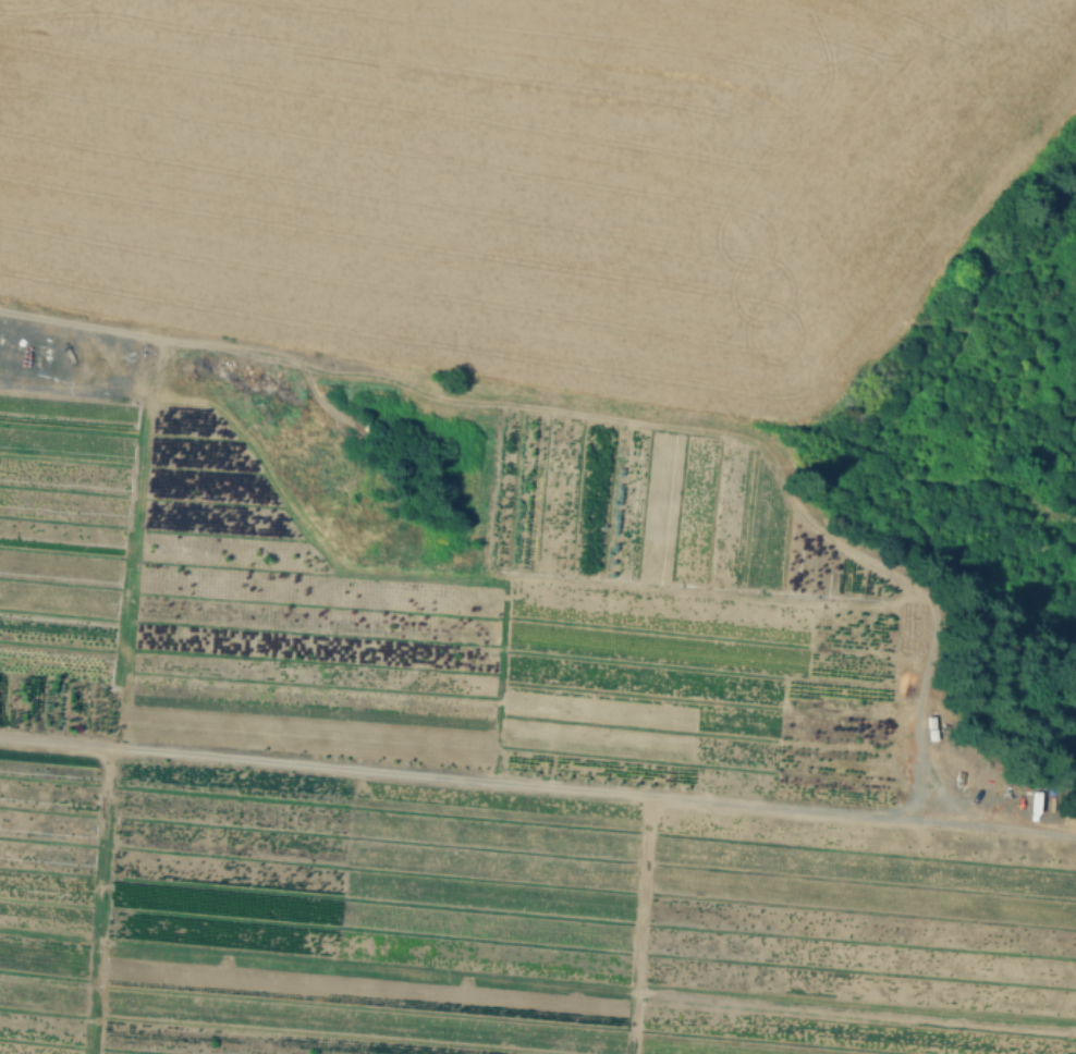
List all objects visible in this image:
crop: (526, 177)
road: (389, 381)
road: (538, 785)

